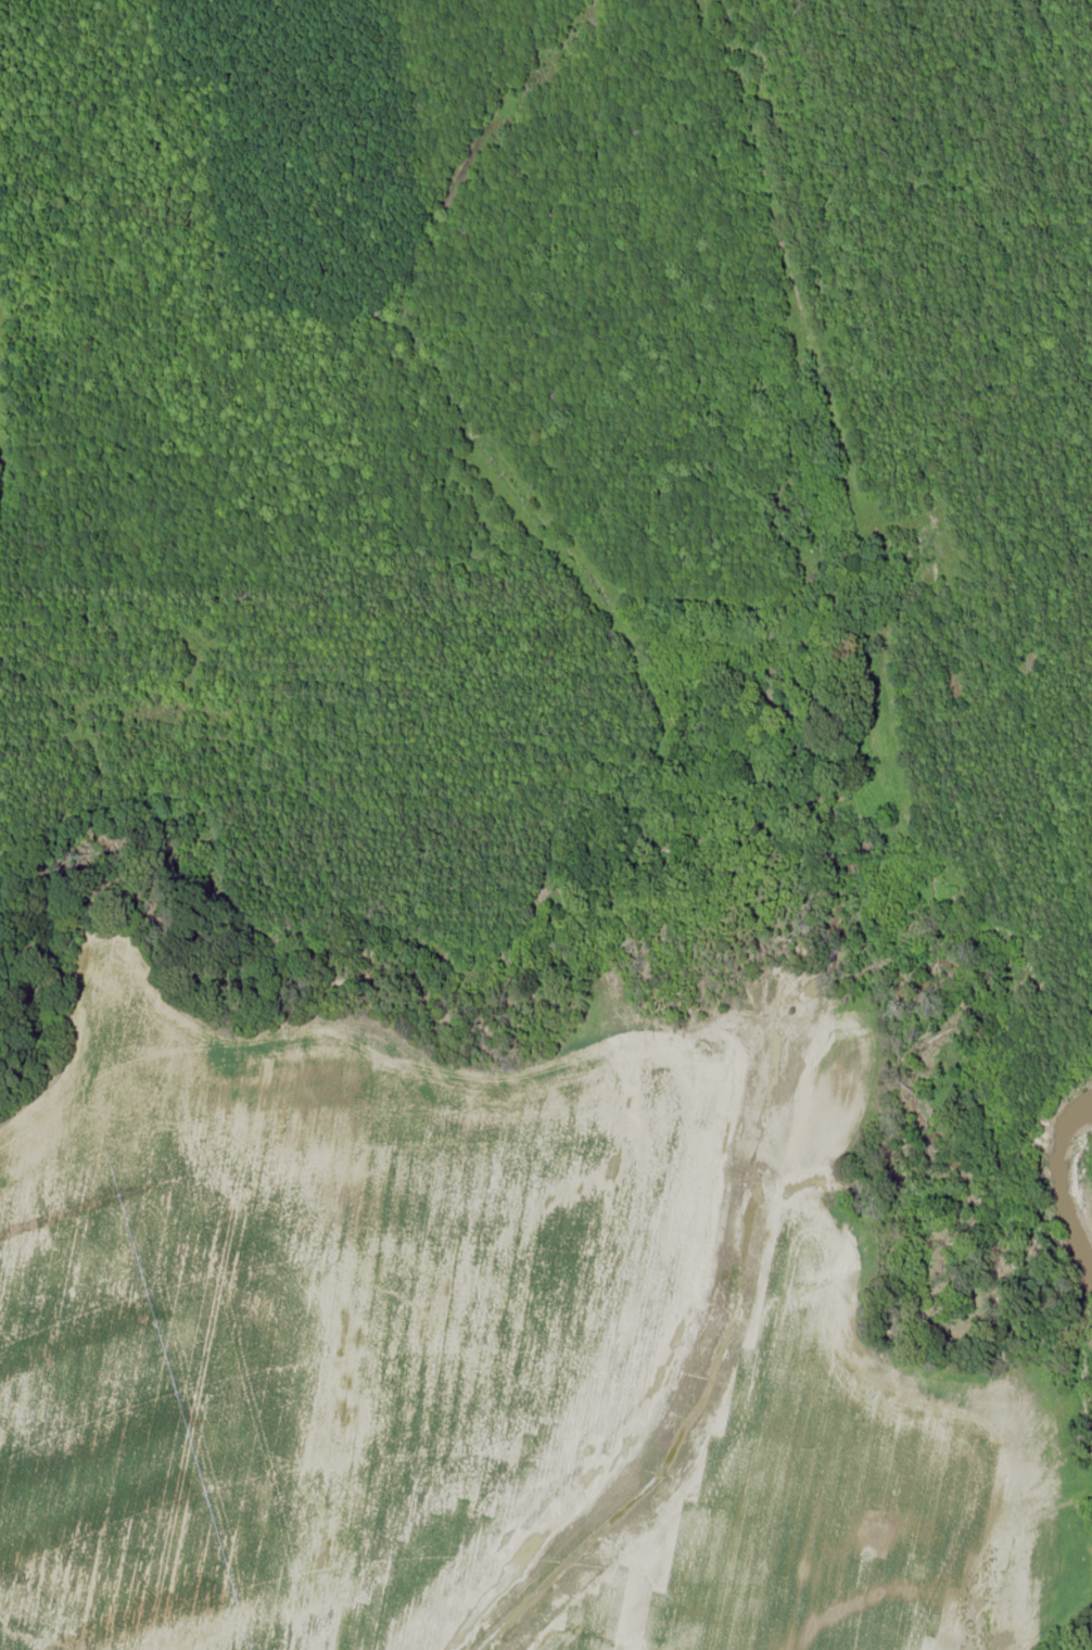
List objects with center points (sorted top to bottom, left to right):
river: (1058, 1180)

